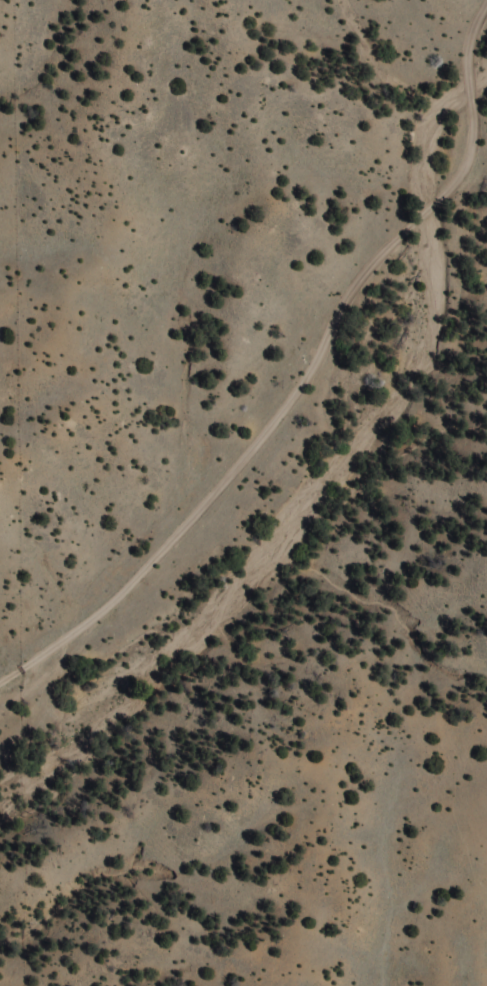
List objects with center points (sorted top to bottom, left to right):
road: (306, 376)

